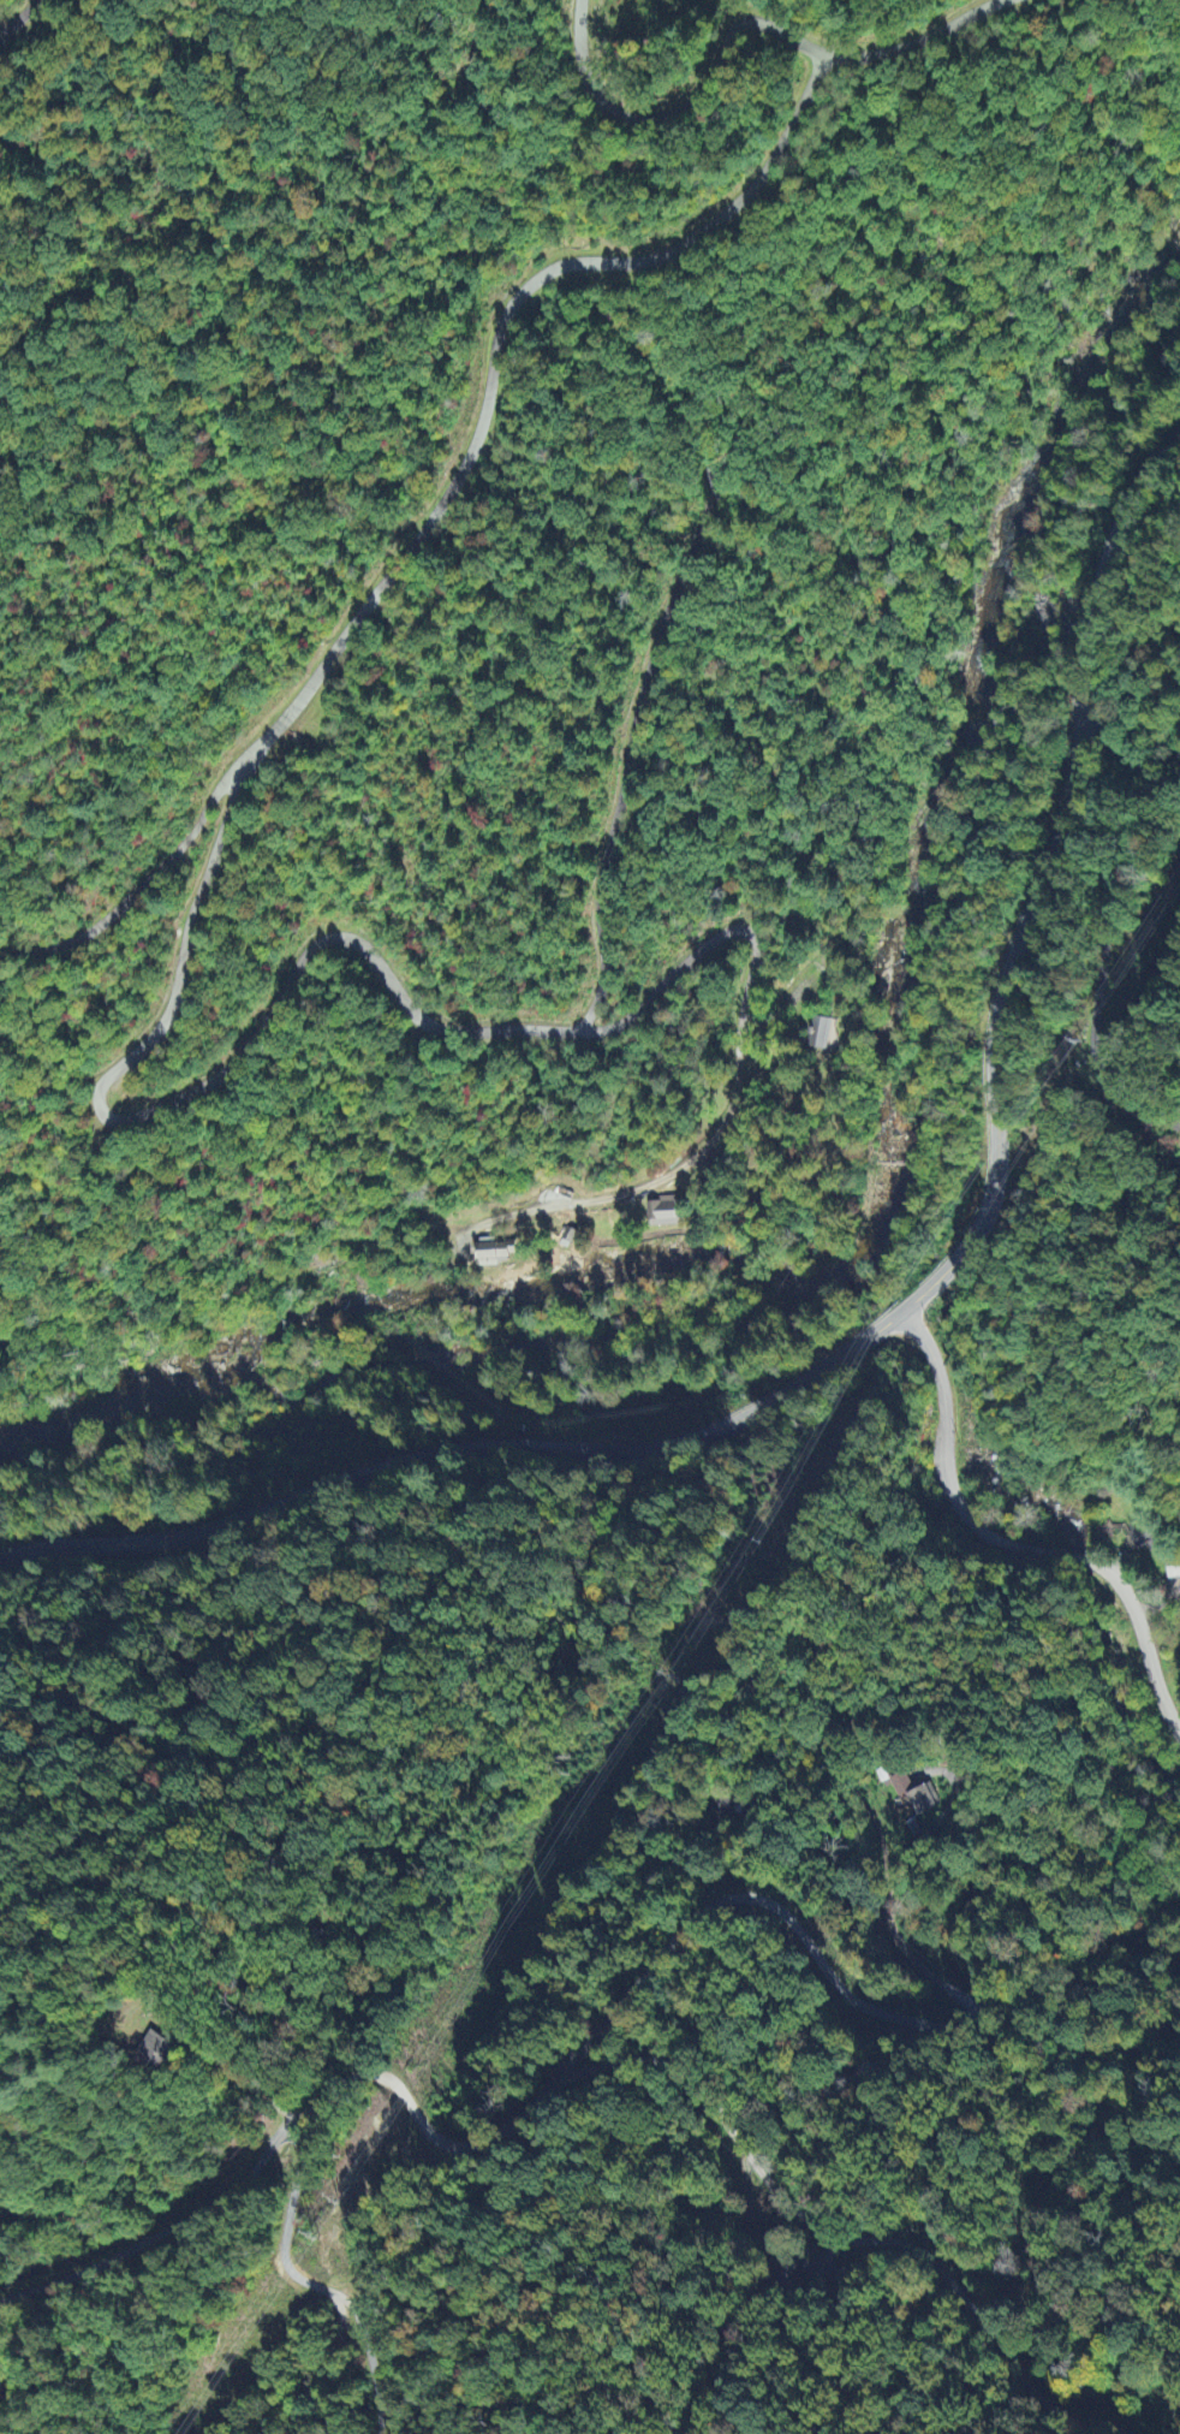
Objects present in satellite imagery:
road: (16, 14)
road: (914, 41)
road: (683, 106)
river: (1000, 767)
road: (142, 887)
road: (1103, 927)
building: (822, 1035)
road: (108, 1075)
building: (663, 1212)
building: (495, 1253)
road: (899, 1314)
river: (449, 1343)
building: (1140, 1536)
road: (1013, 1547)
building: (914, 1795)
road: (874, 1818)
road: (829, 1976)
road: (296, 2124)
road: (419, 2126)
road: (842, 2240)
road: (315, 2387)

